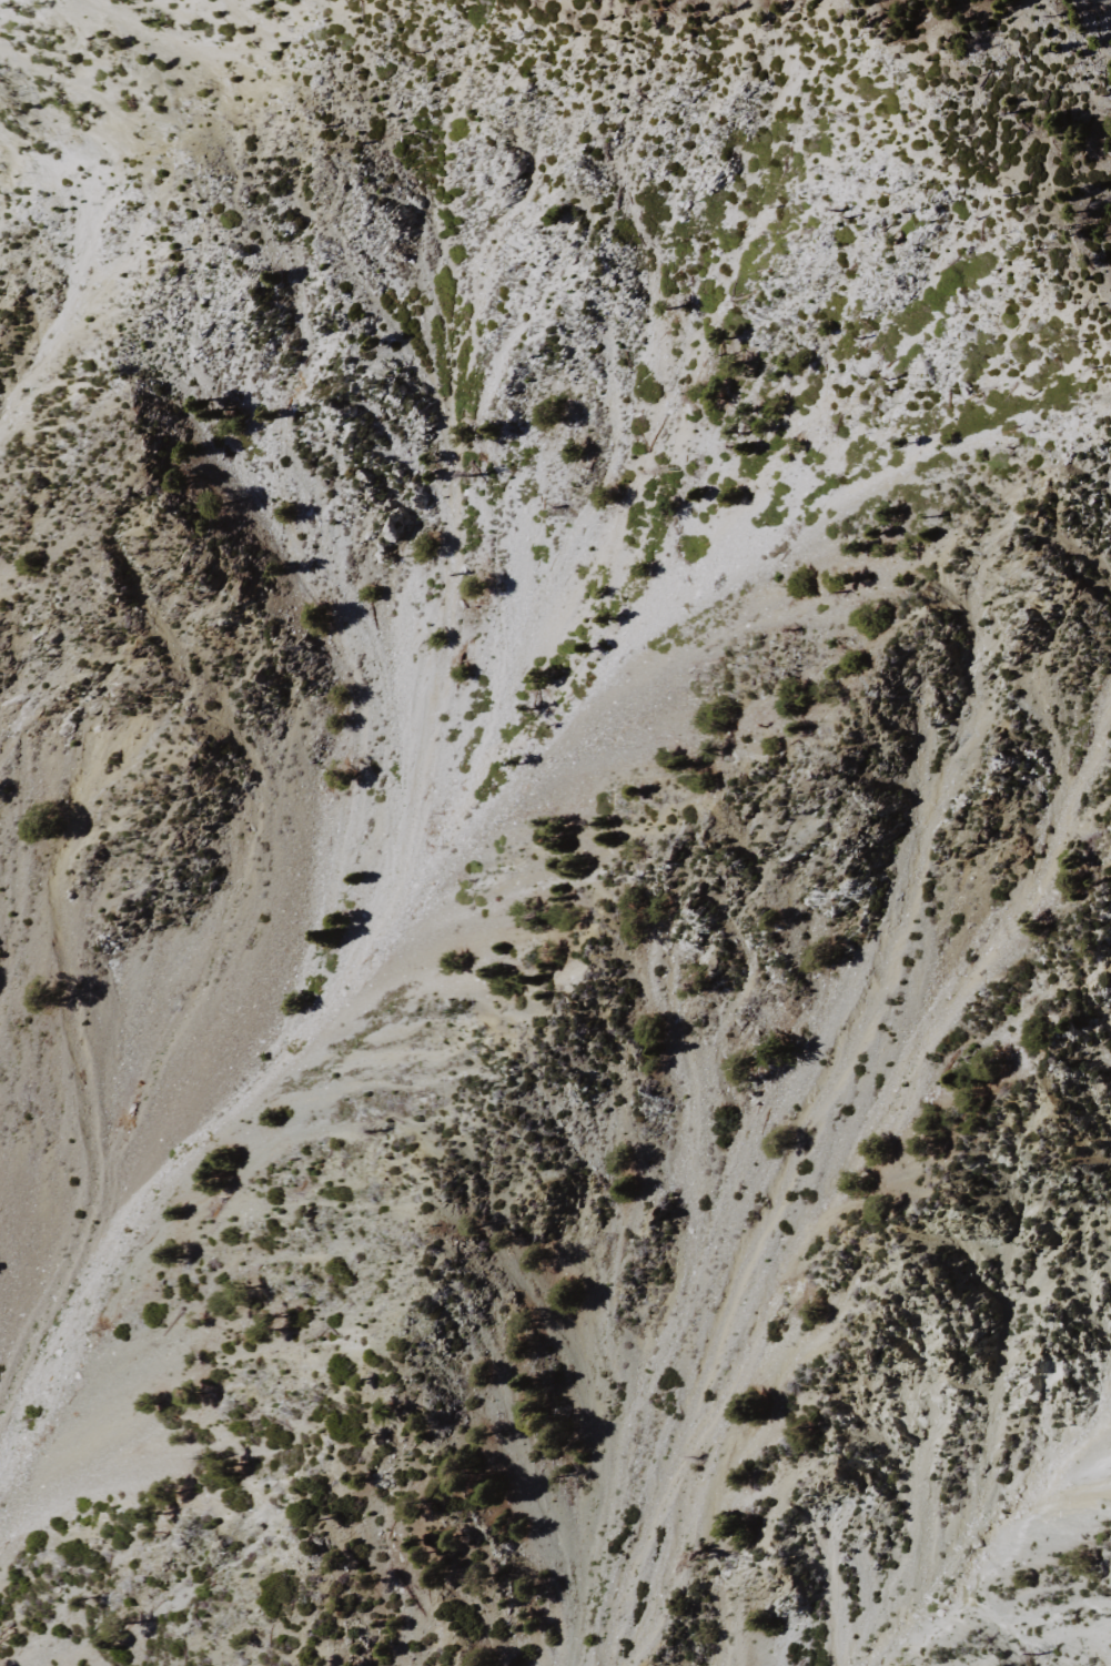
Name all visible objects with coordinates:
road: (1046, 153)

